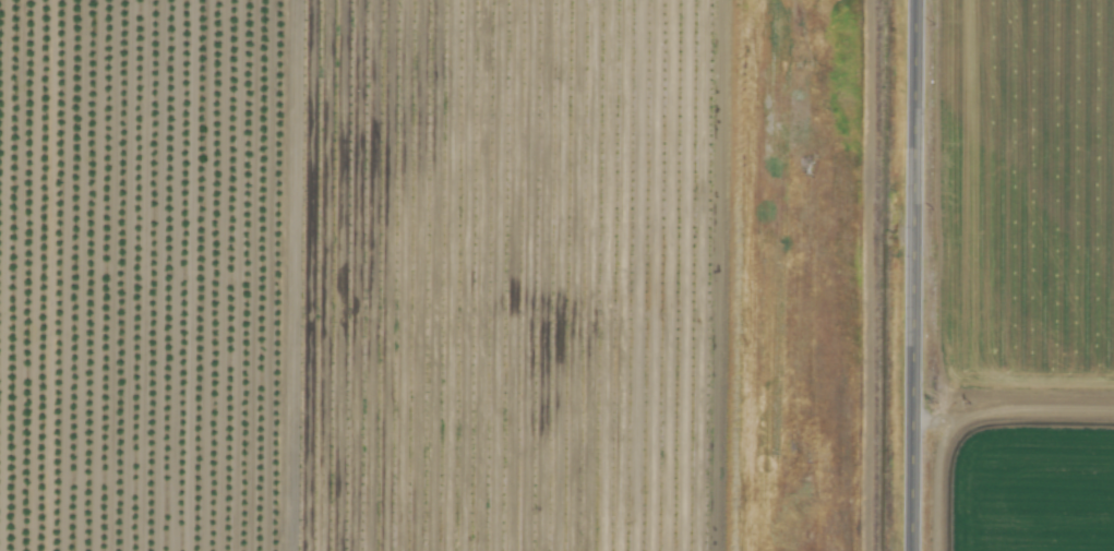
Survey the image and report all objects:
road: (912, 275)
airport: (827, 276)
road: (1011, 410)

